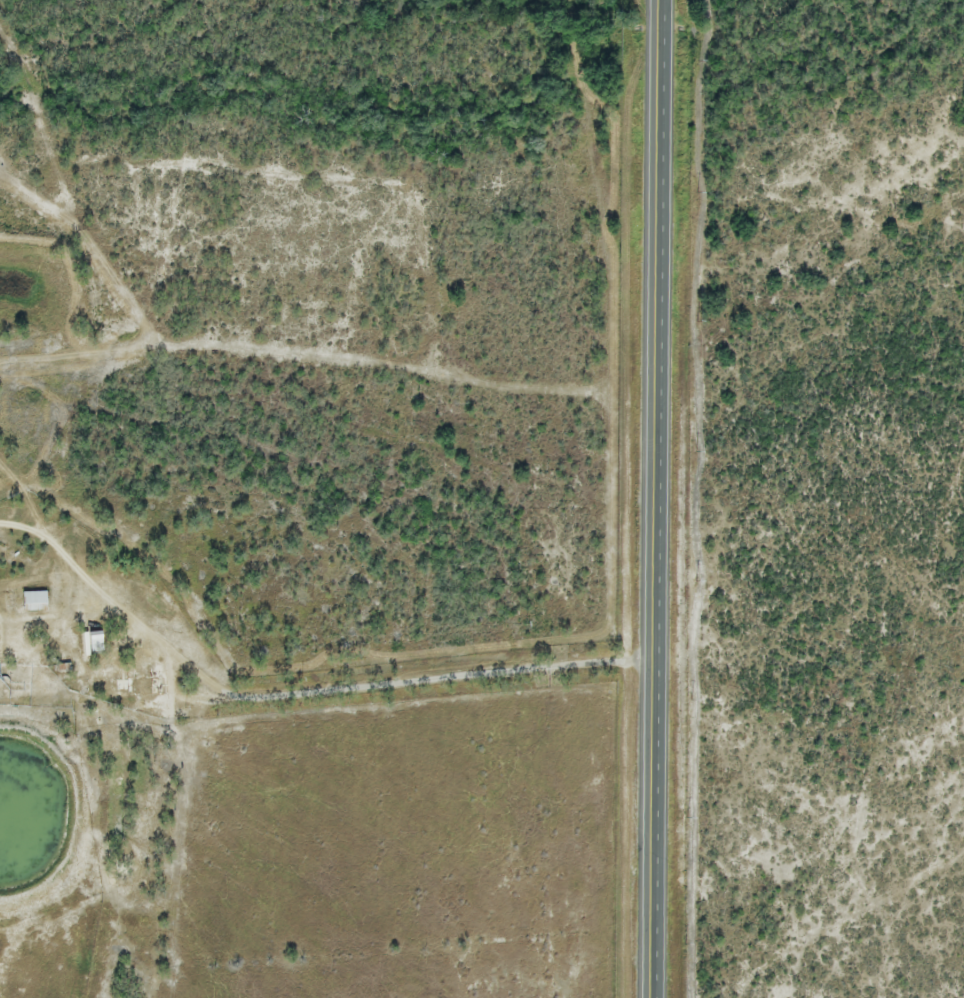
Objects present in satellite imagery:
road: (664, 499)
building: (26, 603)
building: (93, 643)
building: (141, 675)
road: (310, 691)

